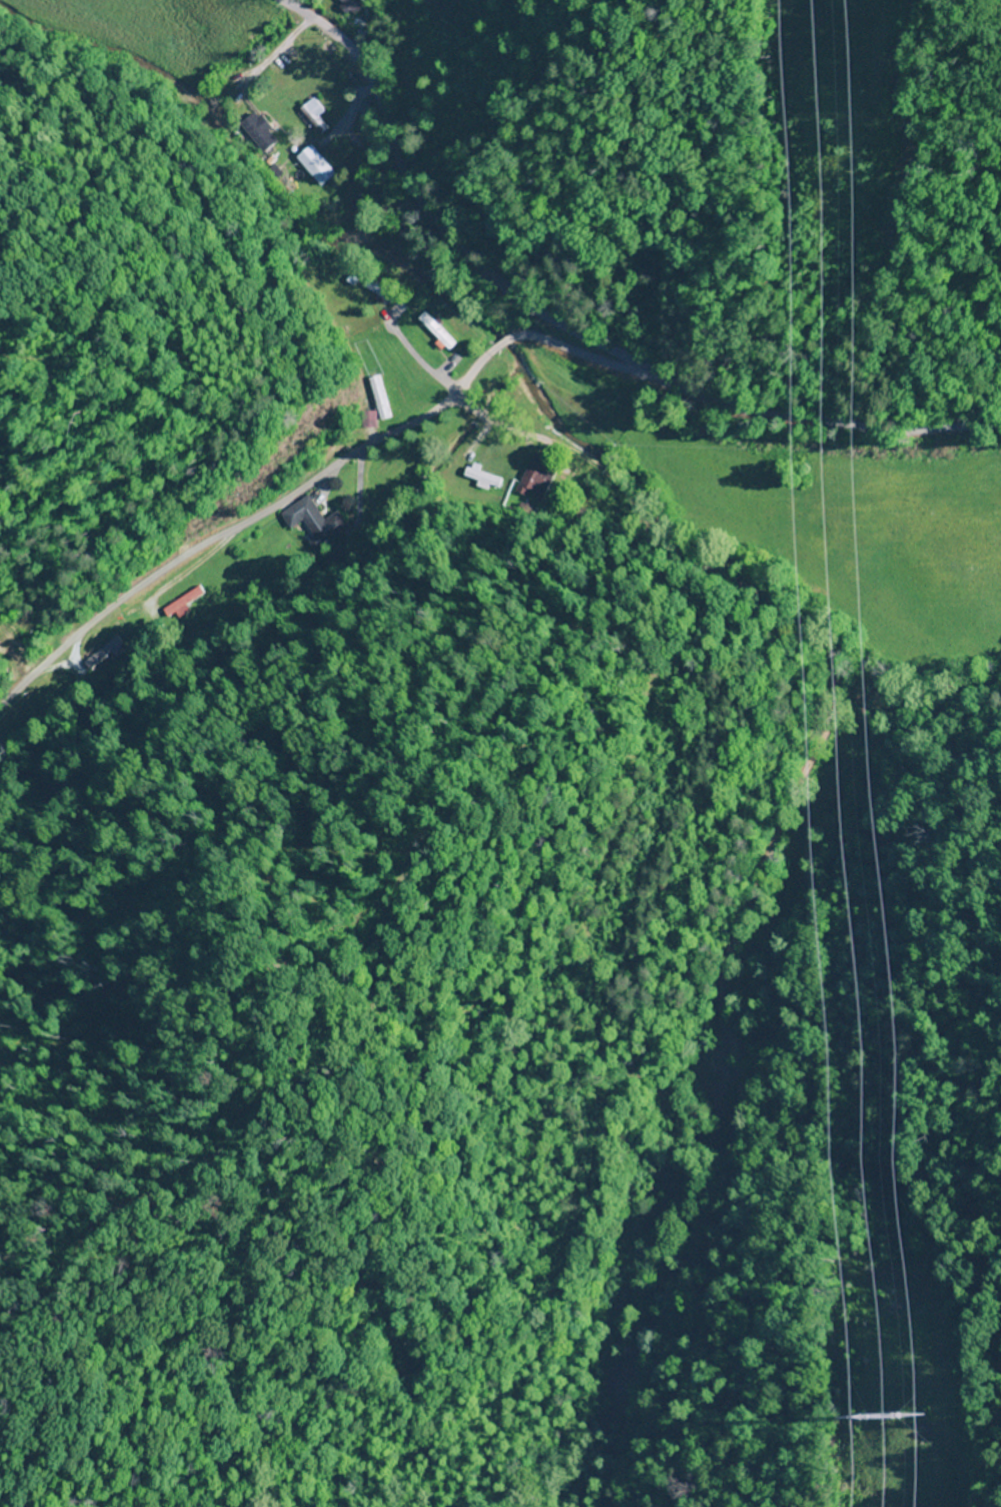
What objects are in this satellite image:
building: (349, 5)
road: (570, 329)
building: (437, 334)
road: (567, 350)
building: (387, 410)
building: (483, 478)
building: (319, 518)
road: (232, 530)
building: (187, 603)
road: (760, 860)
power tower: (902, 1408)

